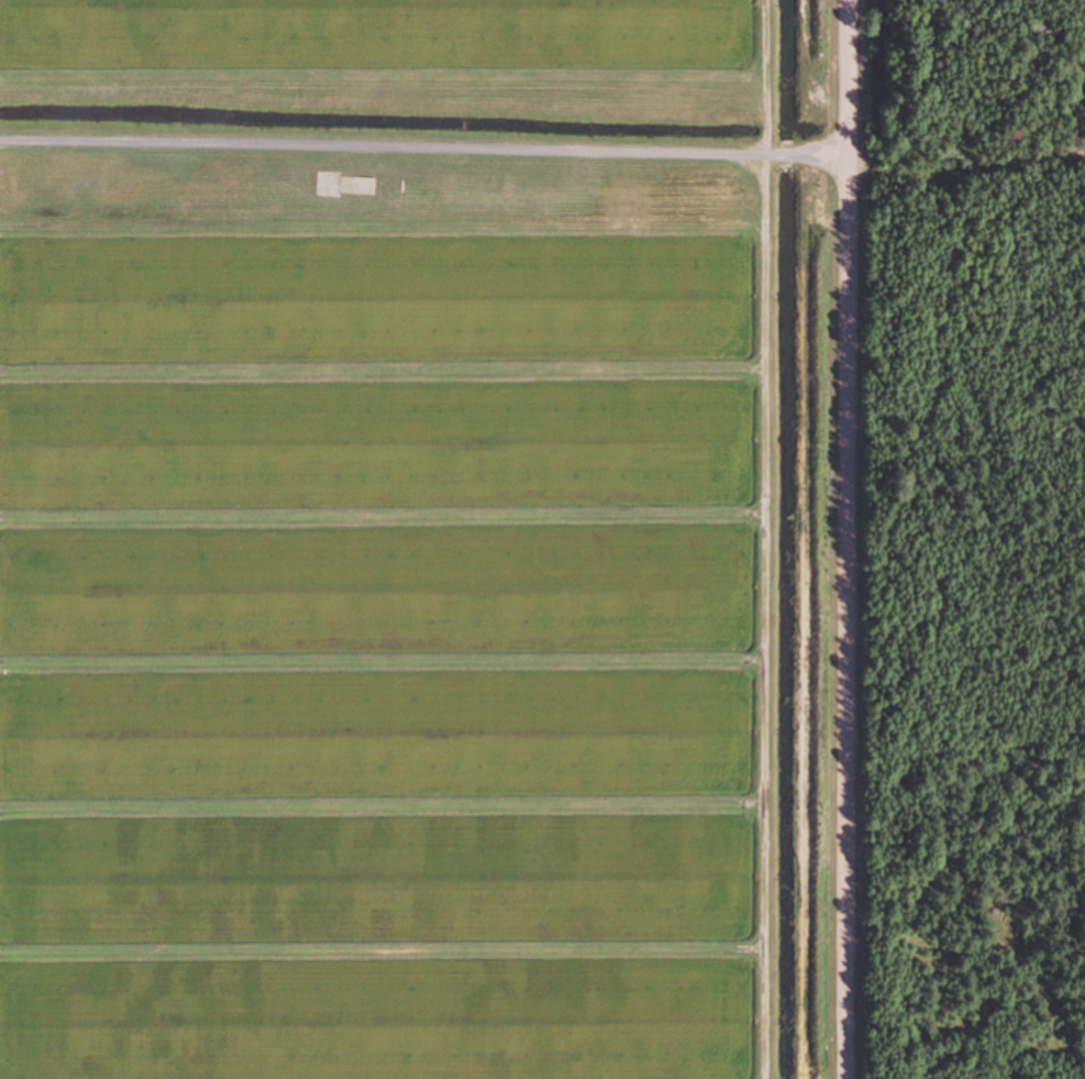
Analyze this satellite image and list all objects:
road: (424, 159)
building: (347, 185)
crop: (395, 539)
road: (848, 539)

